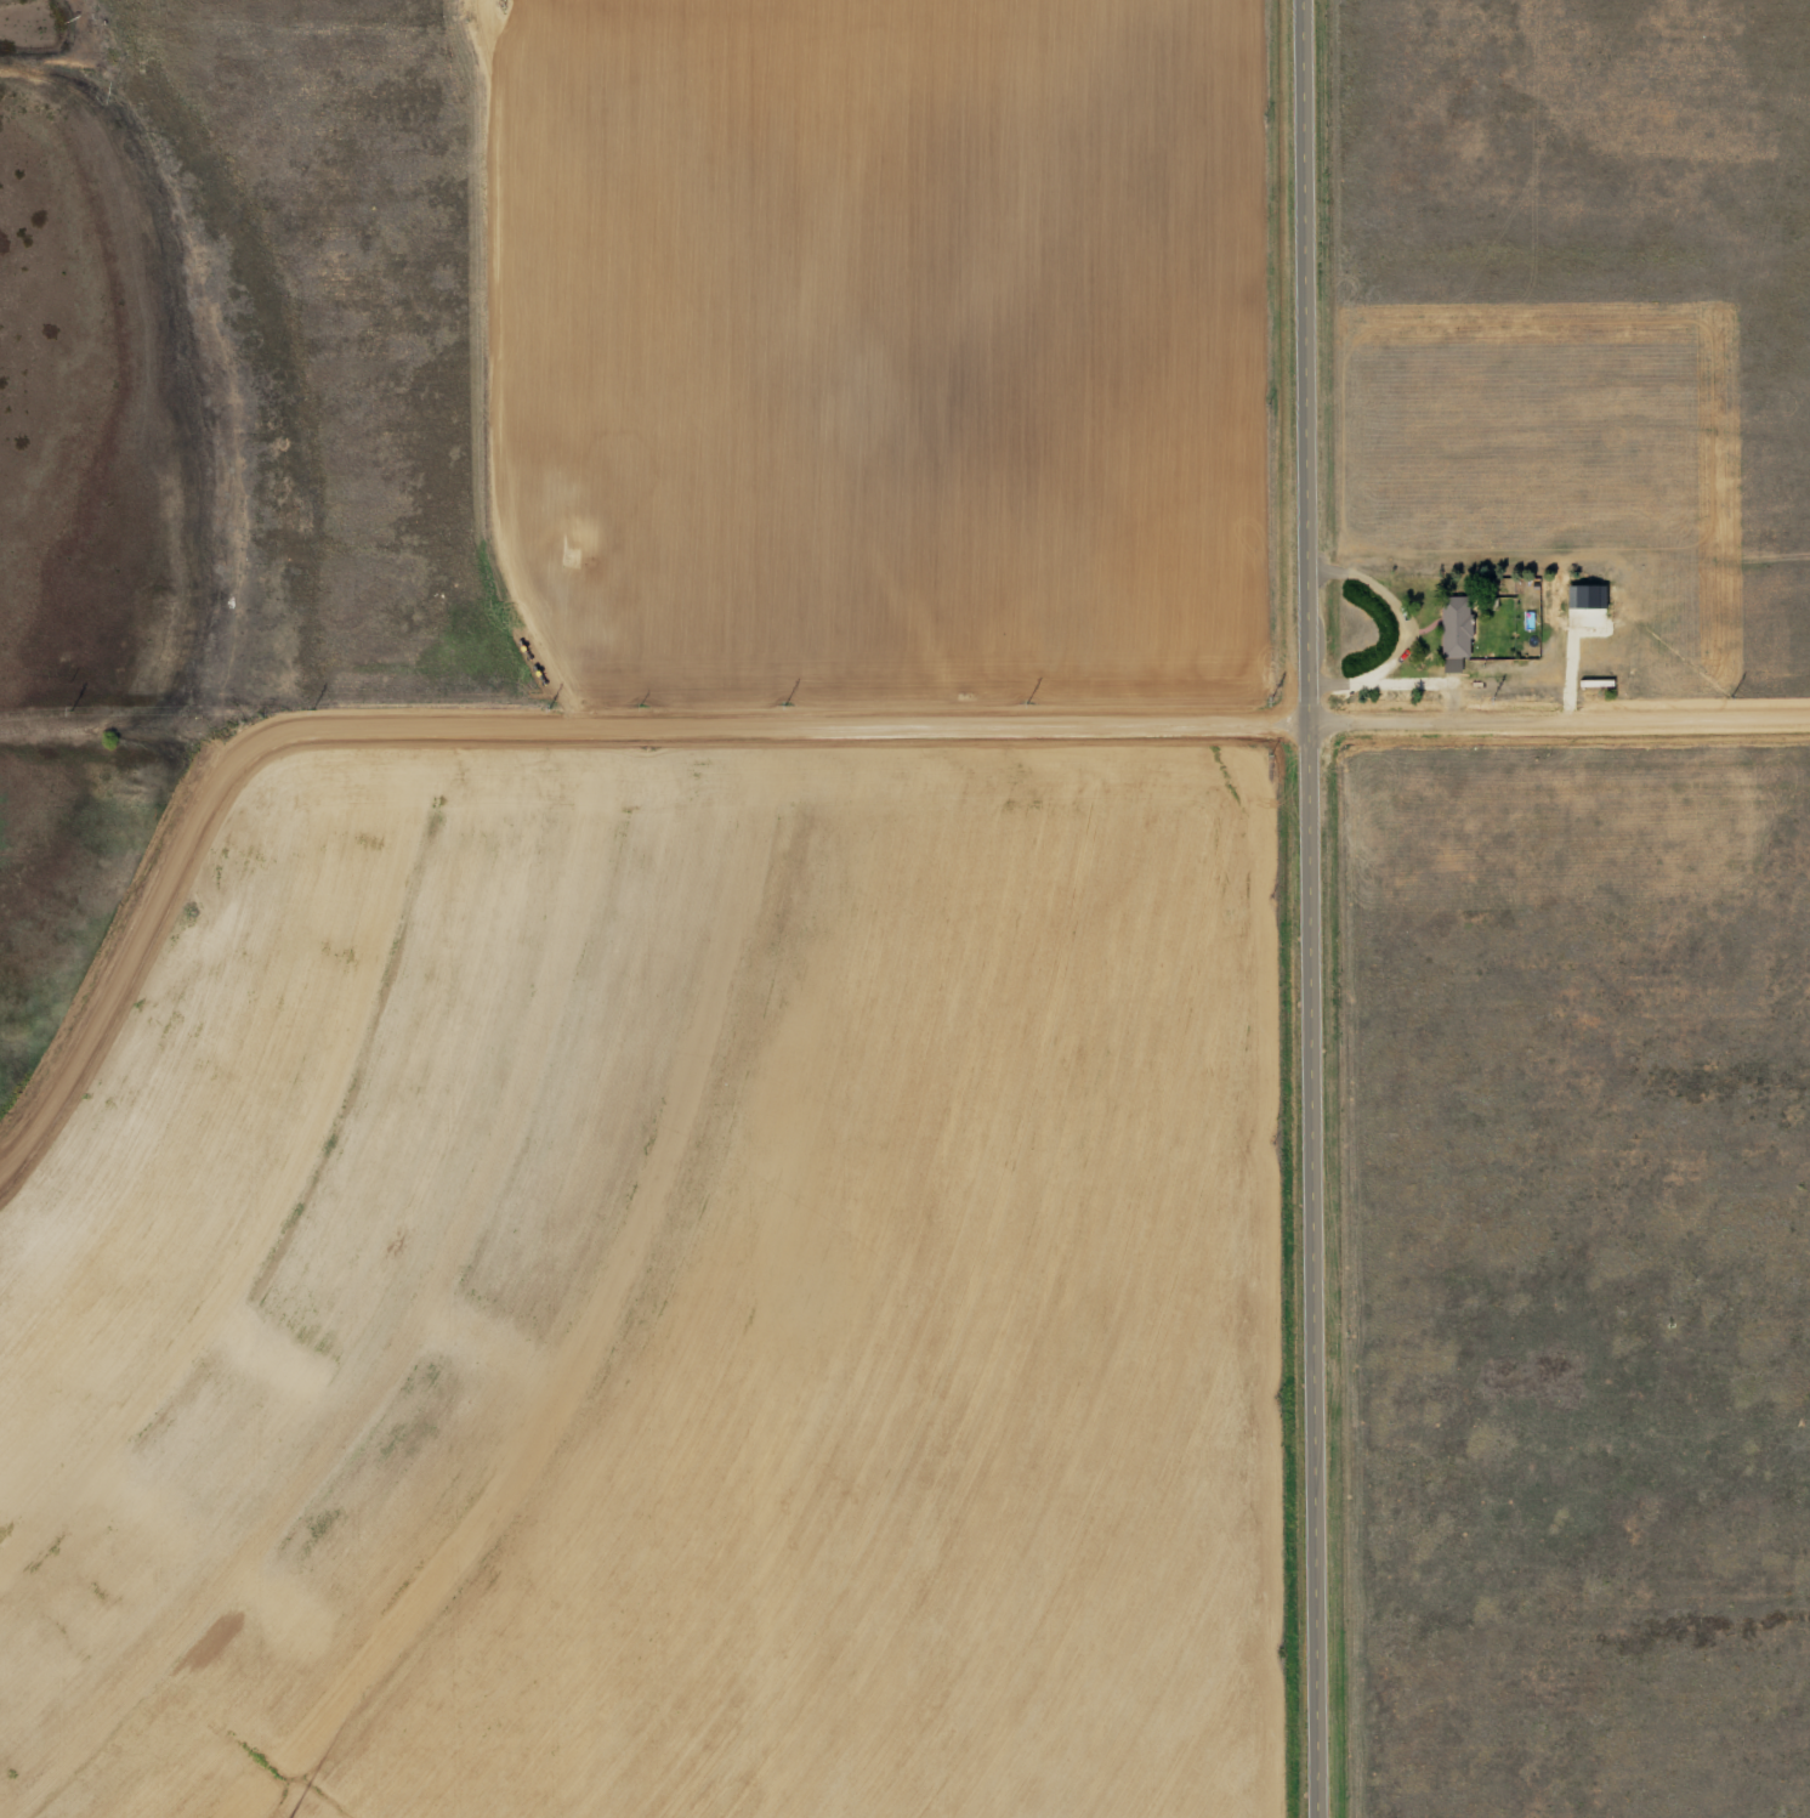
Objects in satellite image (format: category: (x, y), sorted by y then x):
building: (1451, 634)
road: (805, 768)
road: (1354, 908)

